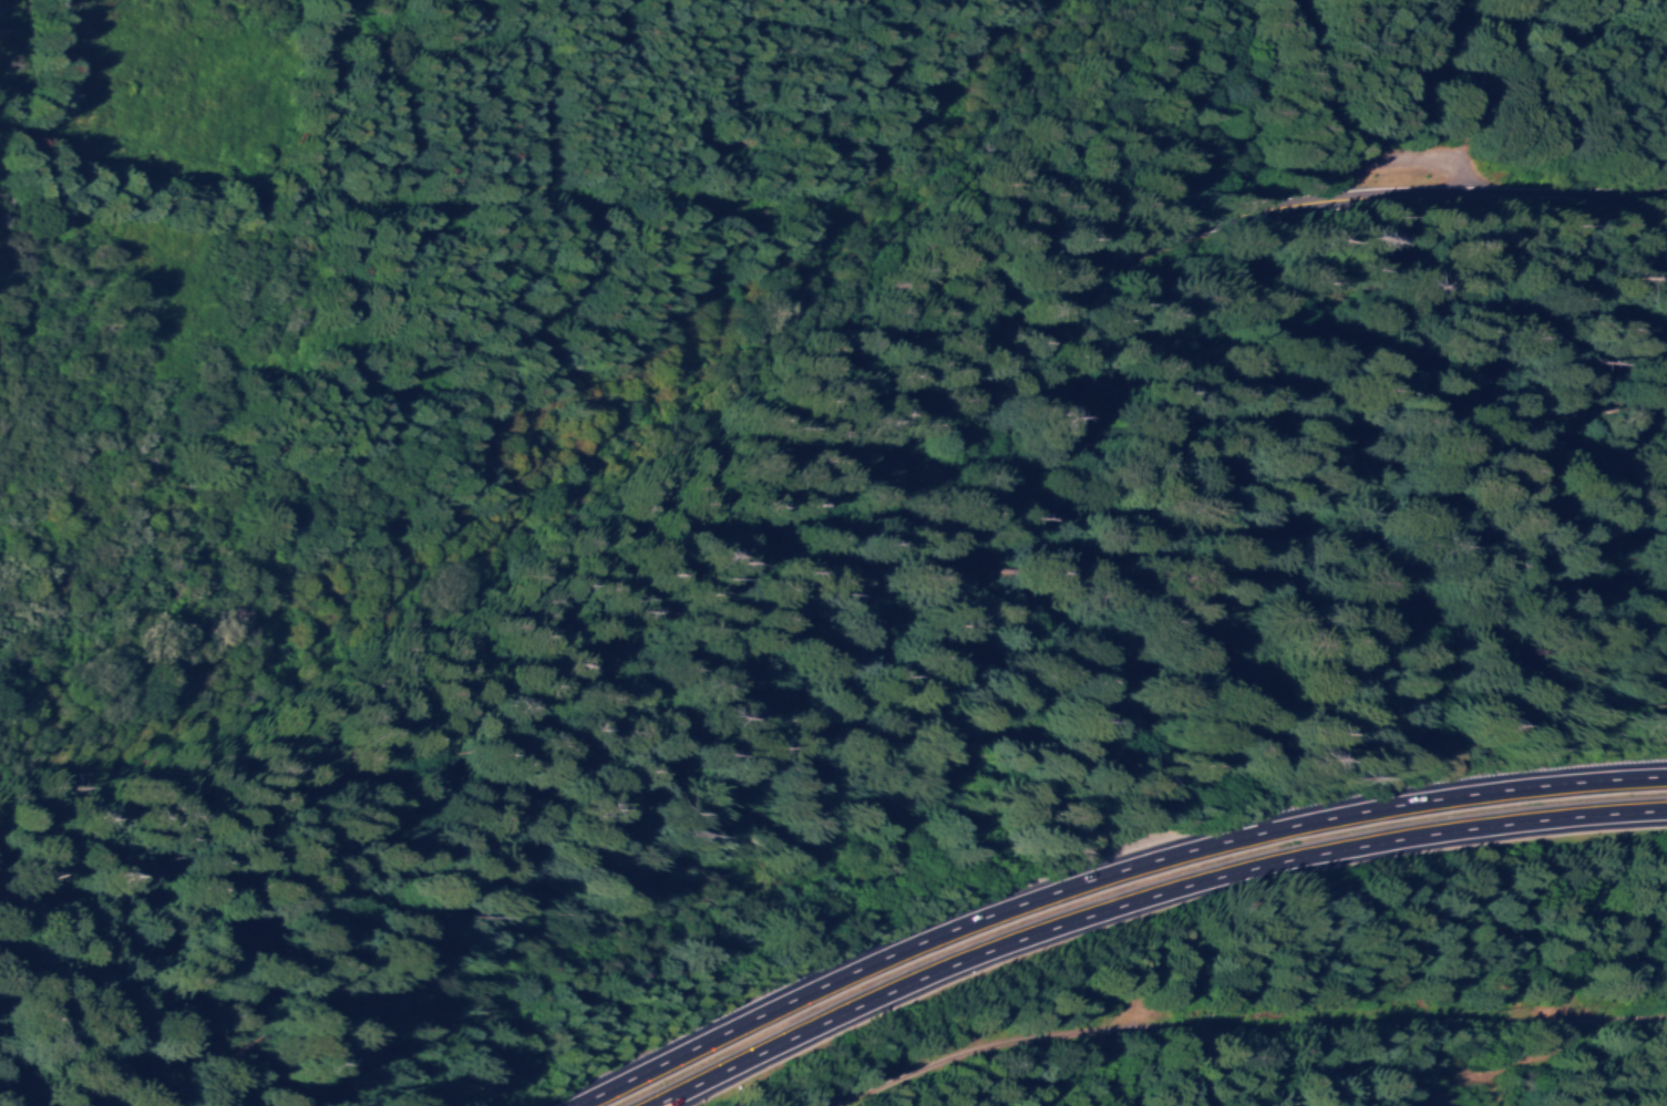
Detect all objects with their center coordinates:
road: (1310, 89)
road: (817, 198)
road: (835, 504)
road: (1102, 878)
road: (1144, 900)
road: (1254, 1036)

